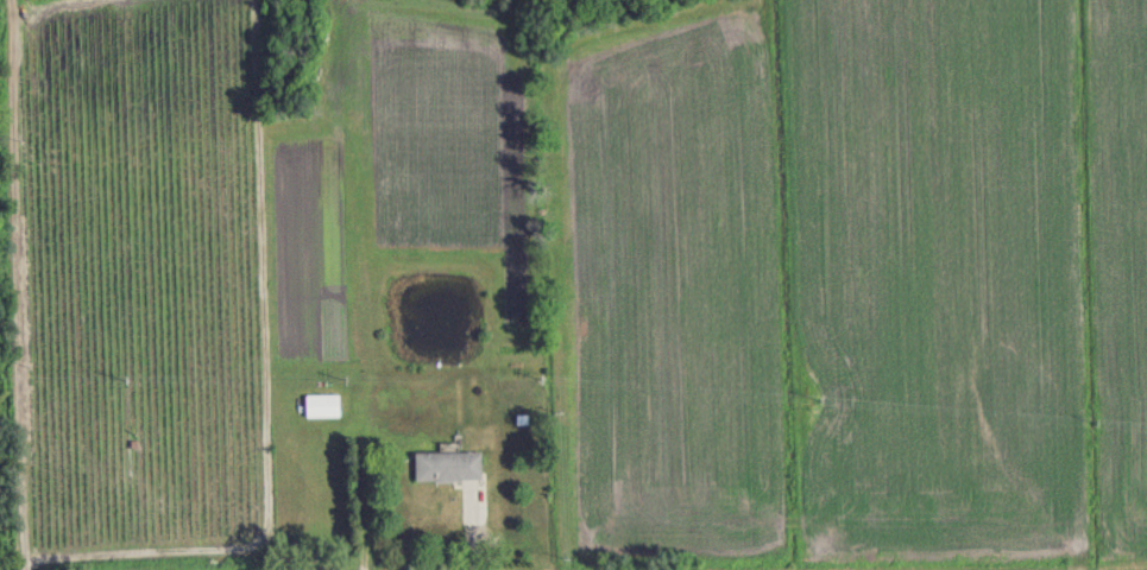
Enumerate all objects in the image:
crop: (587, 270)
road: (19, 284)
building: (321, 406)
building: (446, 467)

